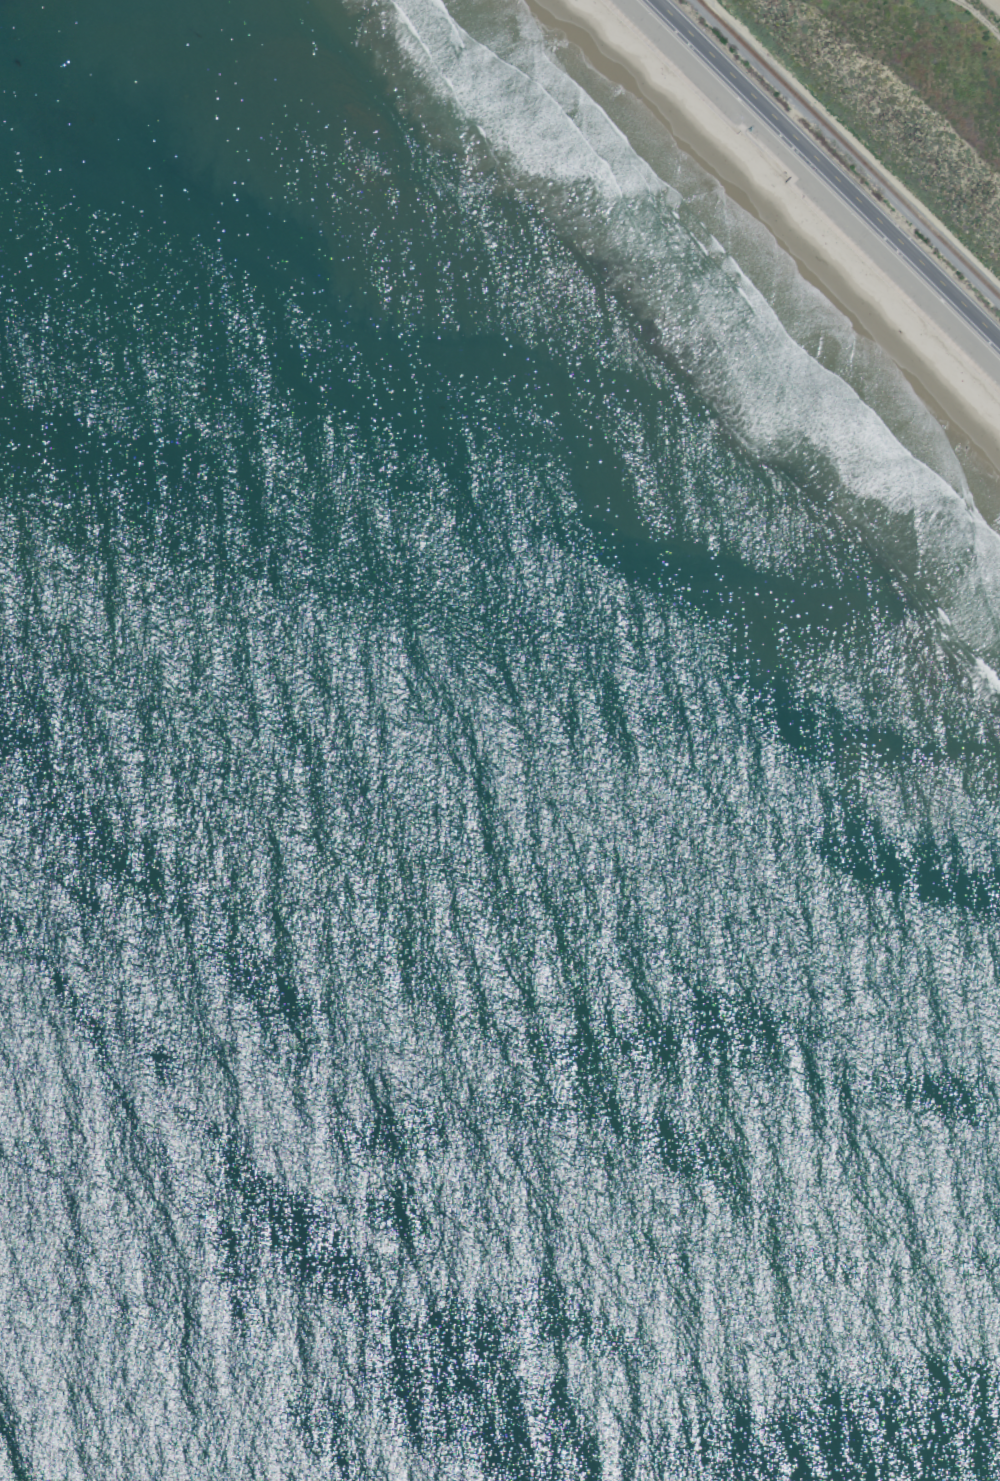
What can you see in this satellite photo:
road: (970, 21)
railway: (848, 149)
road: (827, 172)

